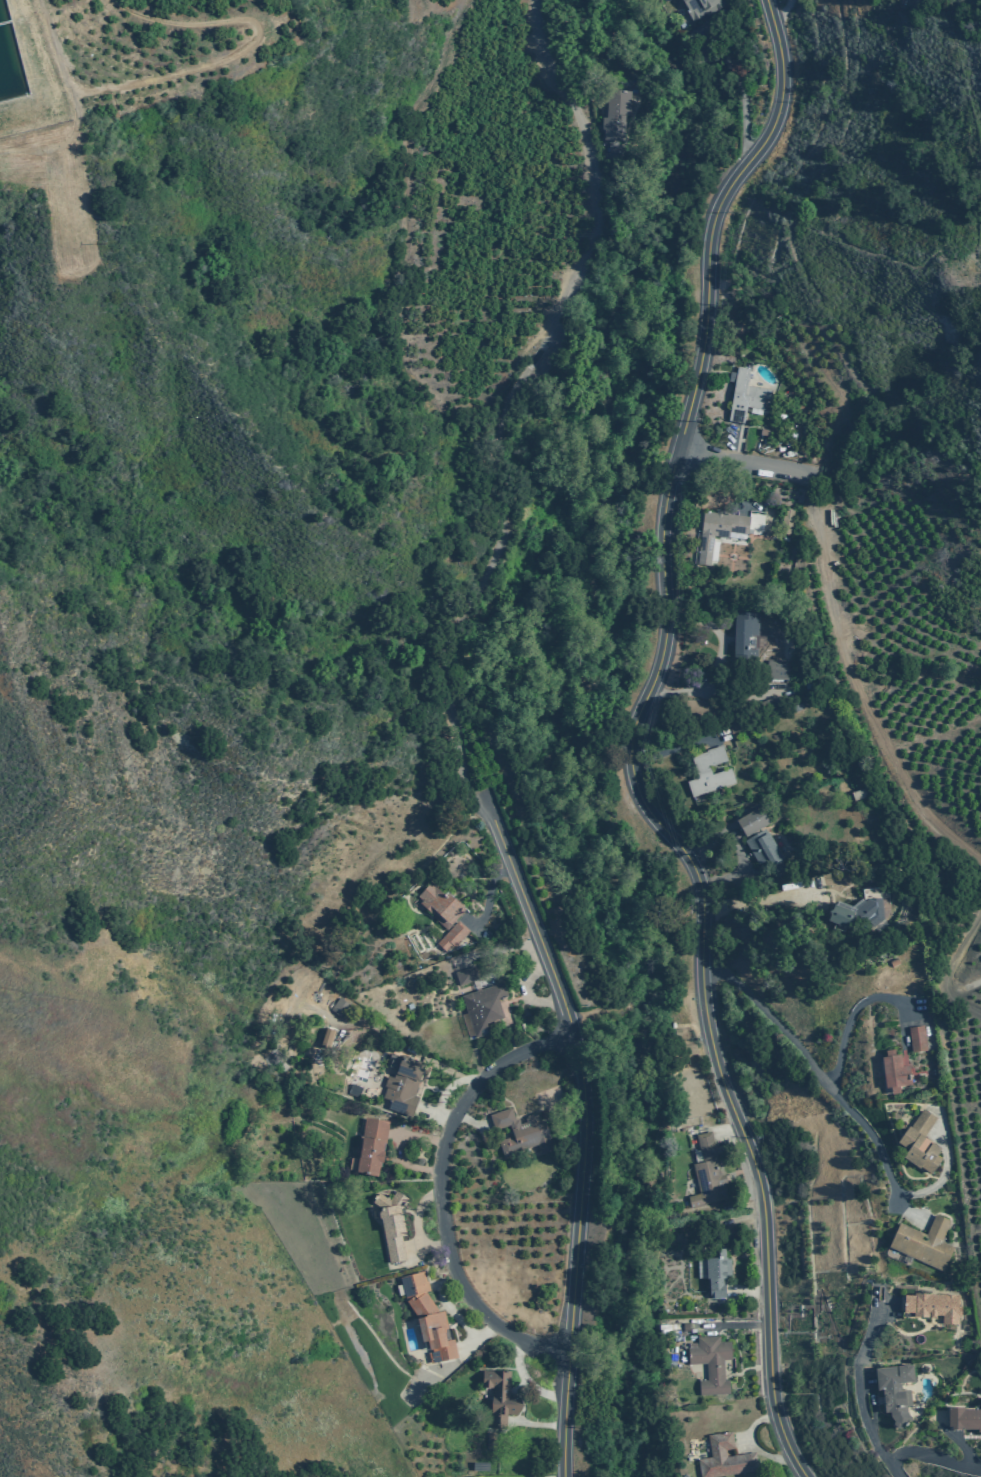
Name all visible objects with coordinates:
building: (699, 7)
road: (783, 10)
road: (704, 37)
road: (245, 48)
road: (715, 48)
road: (74, 101)
building: (616, 114)
road: (681, 133)
road: (642, 147)
road: (867, 220)
road: (406, 245)
building: (745, 396)
road: (506, 400)
building: (764, 432)
building: (790, 434)
road: (732, 443)
road: (739, 462)
road: (744, 486)
road: (751, 502)
building: (786, 521)
building: (718, 531)
road: (719, 634)
building: (746, 637)
building: (778, 669)
road: (854, 683)
road: (719, 691)
building: (768, 704)
building: (734, 726)
road: (630, 740)
road: (671, 746)
building: (709, 772)
building: (752, 822)
road: (735, 833)
road: (725, 837)
building: (763, 847)
road: (738, 871)
road: (760, 899)
road: (488, 900)
building: (863, 909)
building: (444, 914)
road: (499, 951)
building: (894, 962)
road: (952, 967)
building: (466, 975)
road: (526, 990)
building: (339, 1007)
building: (483, 1007)
road: (851, 1015)
road: (386, 1035)
building: (325, 1039)
building: (917, 1039)
building: (692, 1049)
building: (895, 1072)
building: (402, 1084)
road: (449, 1087)
building: (354, 1090)
road: (850, 1110)
road: (436, 1113)
road: (472, 1122)
road: (570, 1131)
building: (521, 1132)
road: (584, 1135)
road: (733, 1136)
building: (920, 1142)
building: (372, 1146)
road: (398, 1146)
building: (707, 1173)
road: (439, 1192)
road: (904, 1210)
road: (746, 1222)
building: (391, 1224)
road: (417, 1226)
building: (924, 1243)
building: (717, 1276)
road: (446, 1305)
building: (932, 1307)
building: (427, 1317)
road: (738, 1325)
building: (686, 1326)
road: (479, 1337)
building: (711, 1363)
road: (527, 1381)
building: (894, 1391)
road: (859, 1395)
building: (500, 1397)
building: (964, 1418)
road: (538, 1424)
building: (491, 1440)
road: (746, 1441)
road: (754, 1443)
road: (957, 1443)
road: (933, 1457)
building: (725, 1458)
building: (480, 1466)

